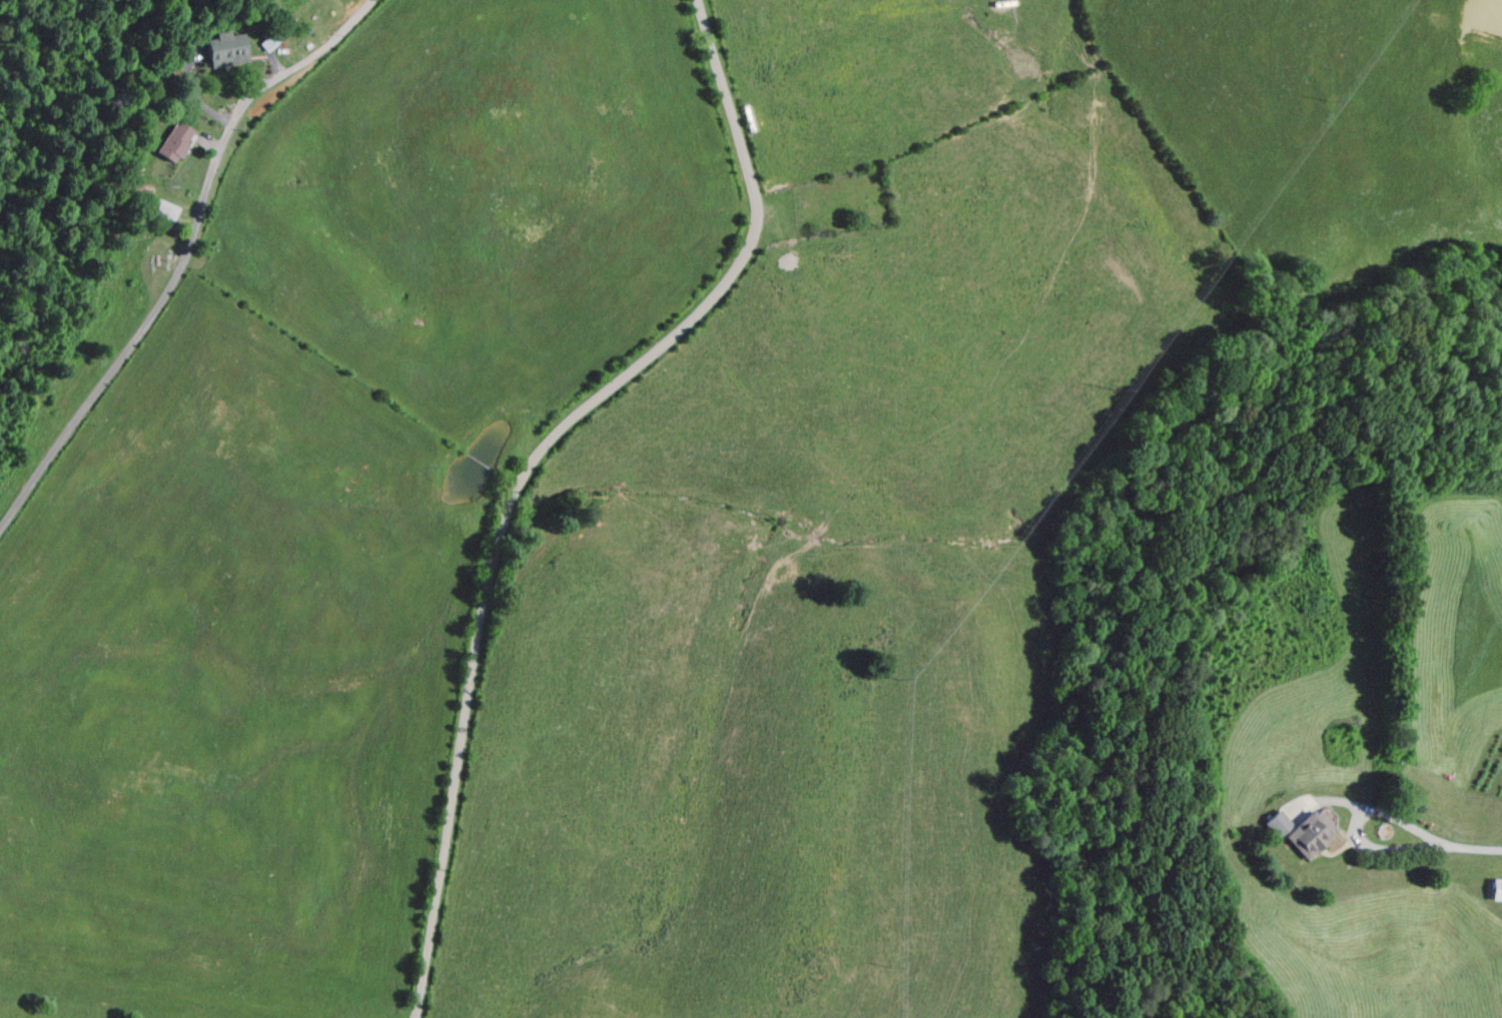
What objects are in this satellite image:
building: (219, 54)
building: (168, 146)
building: (159, 214)
road: (158, 340)
road: (555, 466)
building: (1298, 834)
building: (1495, 893)

